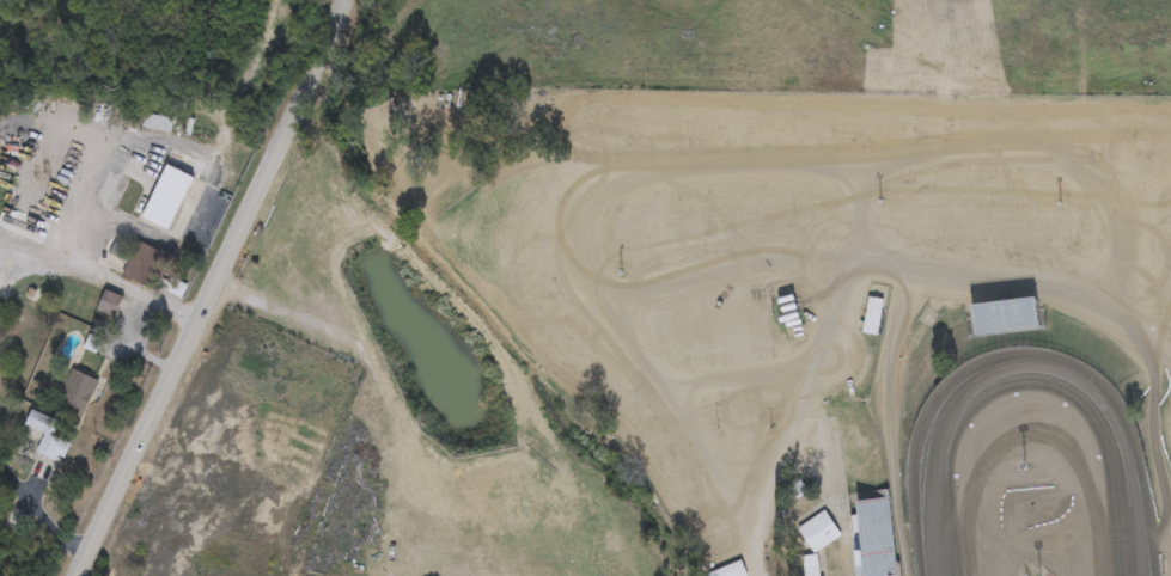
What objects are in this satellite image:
building: (403, 10)
building: (157, 122)
building: (167, 197)
building: (145, 265)
road: (1, 270)
road: (102, 276)
road: (209, 288)
building: (109, 305)
building: (872, 317)
building: (1007, 317)
building: (20, 330)
raceway: (1029, 349)
building: (16, 356)
building: (75, 391)
building: (5, 402)
building: (50, 442)
road: (770, 500)
road: (39, 513)
building: (819, 532)
building: (810, 565)
building: (730, 571)

